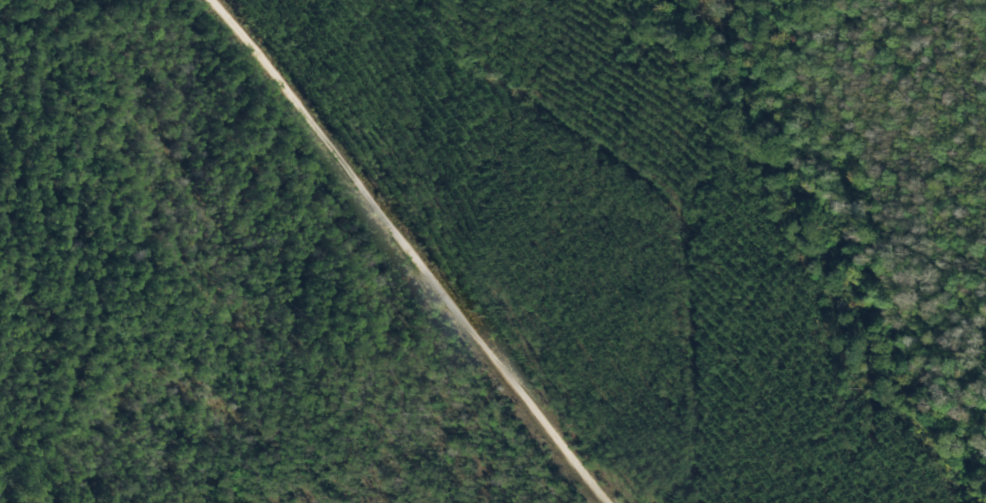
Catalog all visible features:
road: (390, 249)

